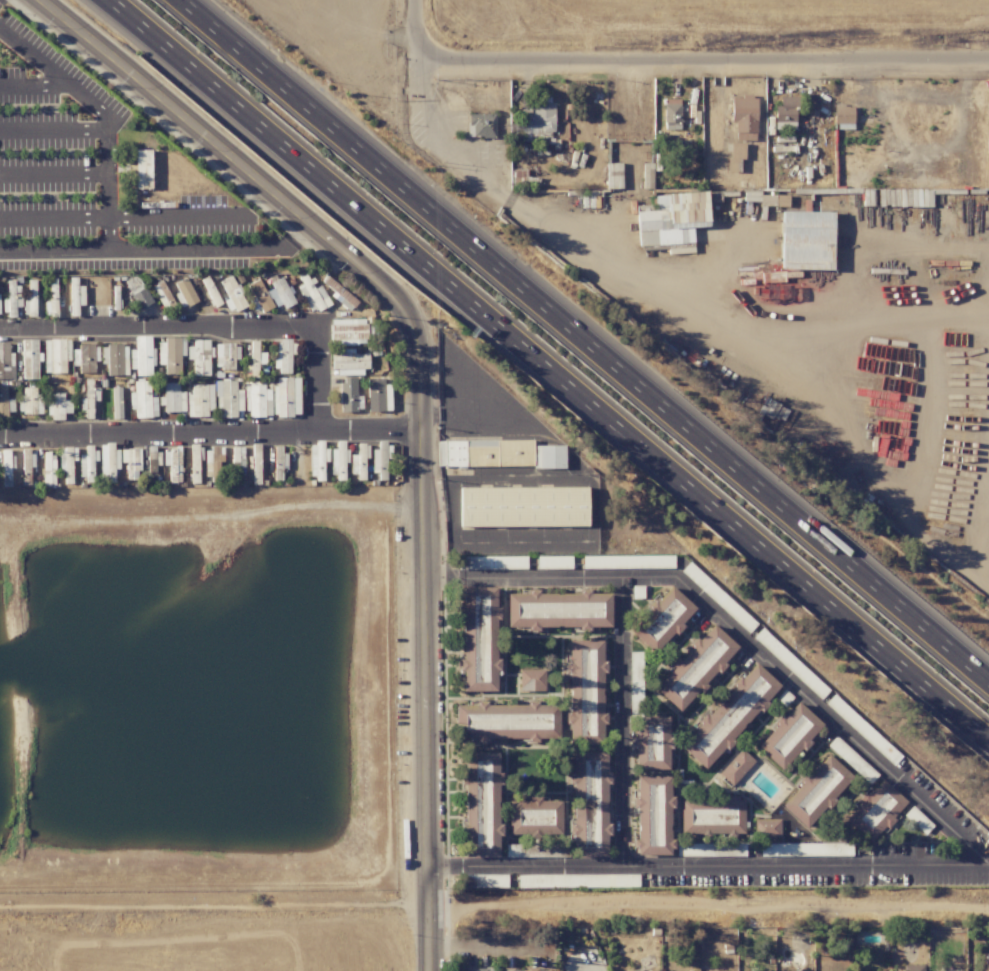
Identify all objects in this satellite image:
road: (416, 28)
road: (703, 56)
road: (422, 82)
road: (37, 85)
building: (671, 114)
building: (785, 114)
building: (744, 117)
building: (844, 117)
building: (534, 121)
building: (481, 125)
road: (52, 131)
building: (735, 156)
road: (228, 159)
building: (143, 169)
road: (53, 174)
building: (518, 178)
building: (647, 179)
building: (773, 200)
road: (122, 217)
building: (671, 218)
road: (107, 219)
road: (552, 227)
building: (806, 240)
road: (54, 247)
building: (137, 292)
building: (337, 292)
building: (184, 293)
building: (162, 294)
building: (232, 294)
building: (280, 294)
building: (312, 294)
building: (258, 295)
building: (76, 296)
building: (212, 296)
building: (31, 297)
building: (52, 297)
building: (11, 298)
building: (351, 331)
road: (585, 340)
building: (56, 355)
building: (170, 355)
building: (225, 355)
building: (282, 355)
building: (142, 356)
building: (199, 357)
building: (84, 358)
building: (255, 358)
building: (30, 359)
building: (115, 359)
building: (6, 362)
building: (348, 362)
road: (549, 370)
road: (316, 380)
building: (349, 395)
building: (375, 395)
building: (286, 396)
building: (172, 398)
building: (88, 399)
building: (228, 399)
building: (142, 400)
building: (200, 400)
building: (256, 400)
building: (30, 401)
building: (5, 402)
building: (116, 403)
building: (58, 407)
road: (368, 430)
building: (255, 452)
building: (237, 454)
building: (497, 454)
building: (216, 455)
building: (6, 459)
building: (381, 459)
building: (338, 460)
building: (107, 461)
building: (131, 461)
building: (359, 461)
building: (67, 462)
building: (317, 462)
building: (86, 463)
building: (48, 469)
building: (523, 507)
building: (494, 562)
building: (553, 562)
building: (628, 562)
building: (558, 610)
building: (661, 620)
building: (479, 639)
road: (420, 648)
building: (791, 663)
building: (695, 667)
building: (531, 680)
building: (635, 684)
building: (585, 692)
building: (729, 716)
building: (507, 721)
road: (622, 723)
building: (789, 735)
building: (651, 743)
building: (852, 760)
building: (736, 767)
building: (816, 791)
building: (481, 804)
building: (589, 804)
building: (876, 810)
building: (653, 816)
building: (712, 816)
building: (534, 818)
road: (950, 824)
building: (767, 828)
road: (331, 848)
building: (806, 849)
building: (536, 850)
building: (710, 850)
building: (577, 880)
building: (483, 881)
road: (474, 948)
building: (913, 968)
building: (476, 970)
building: (514, 970)
building: (636, 970)

